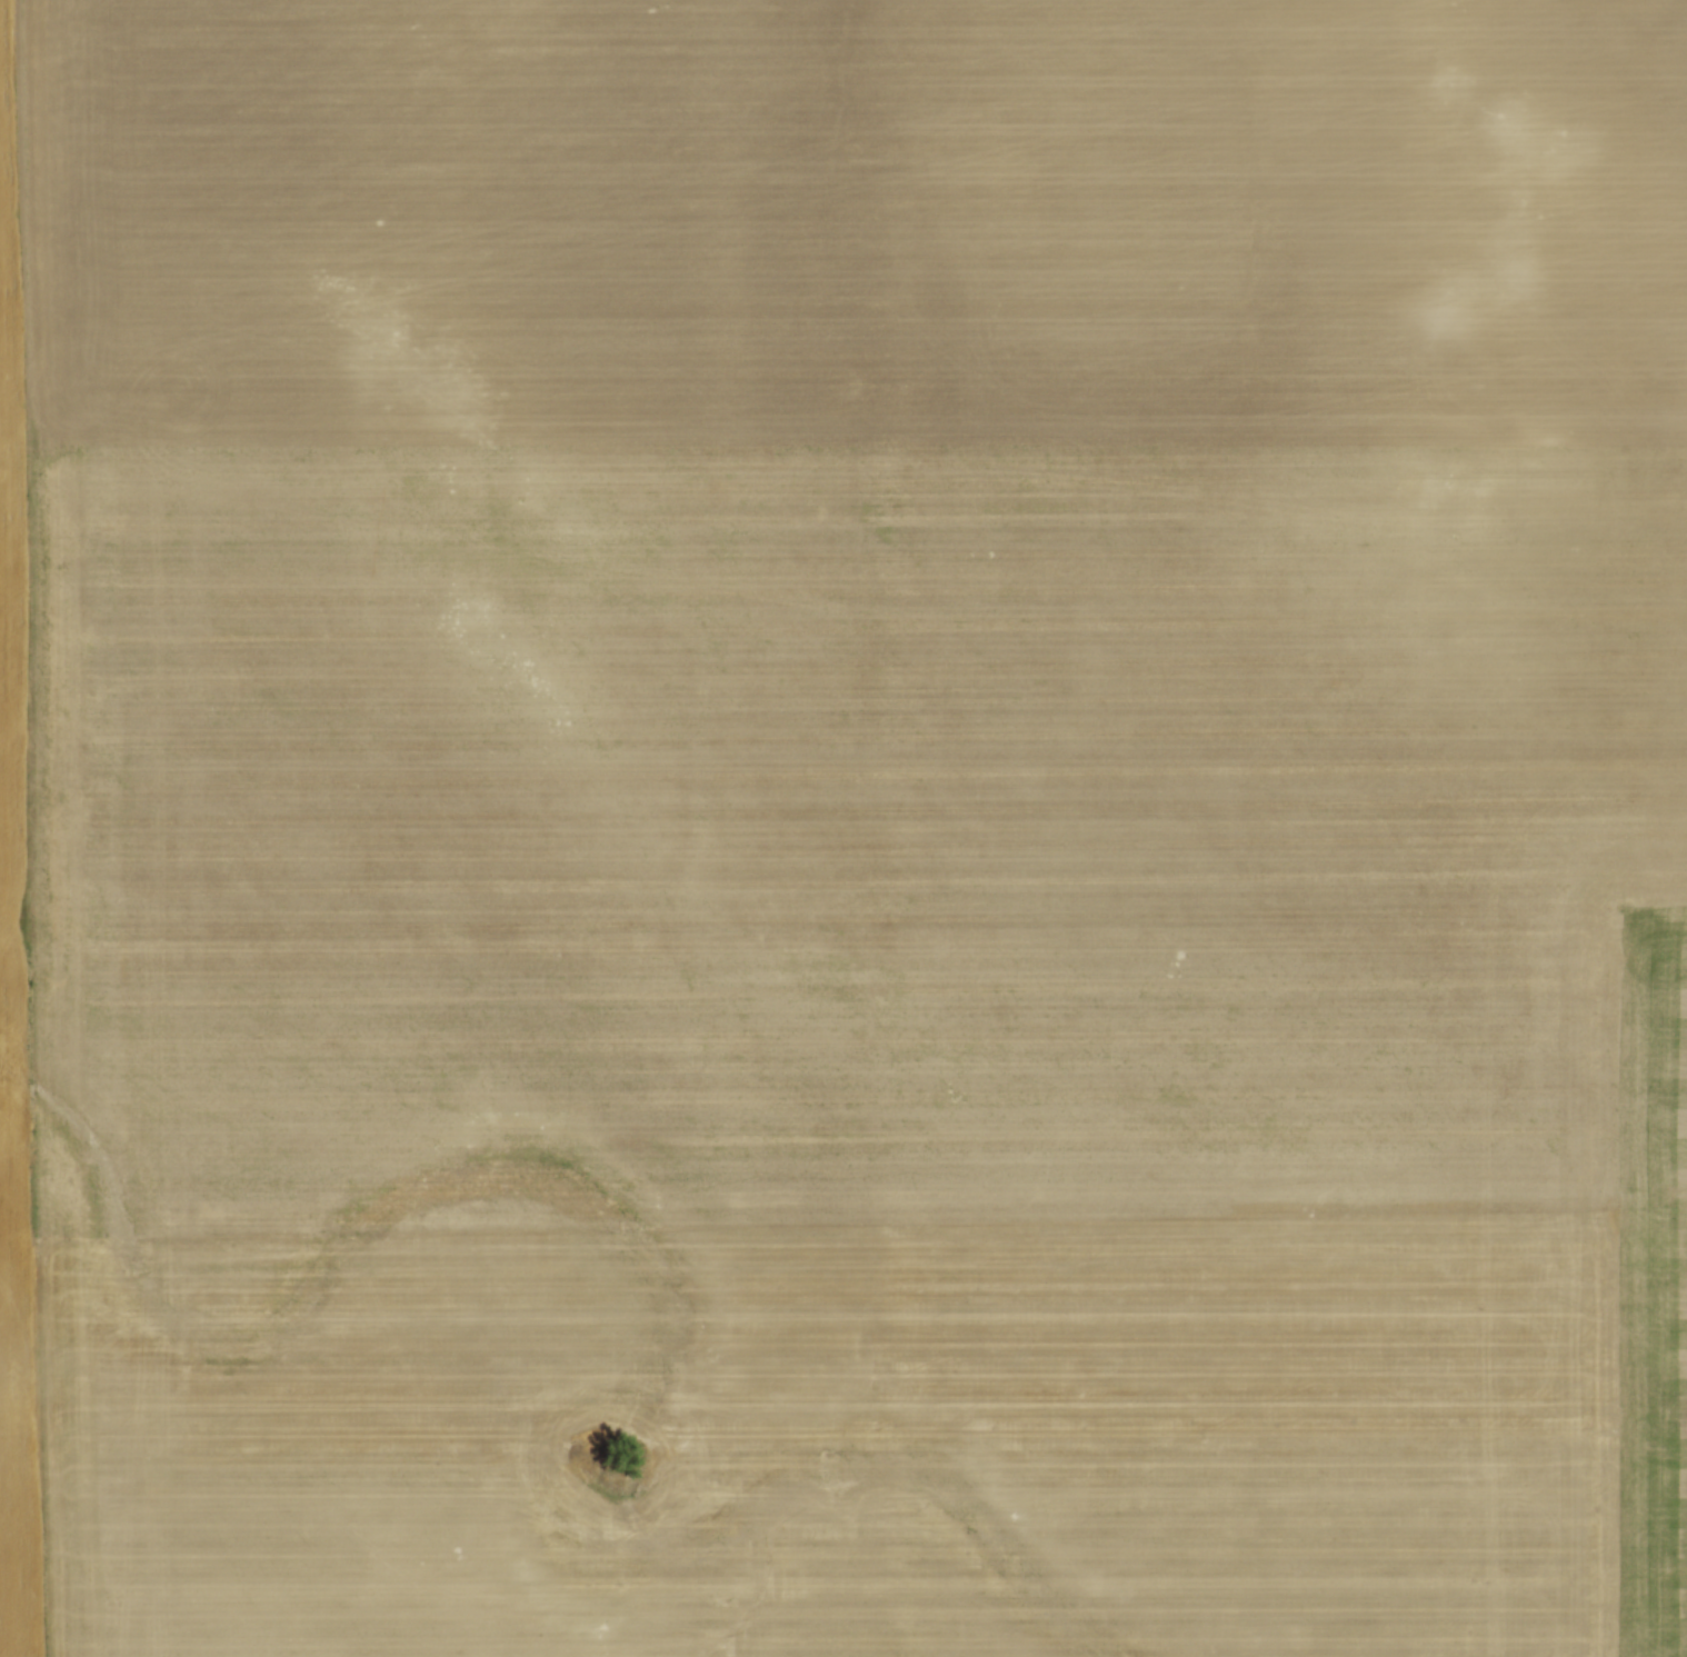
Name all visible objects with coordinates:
crop: (843, 828)

